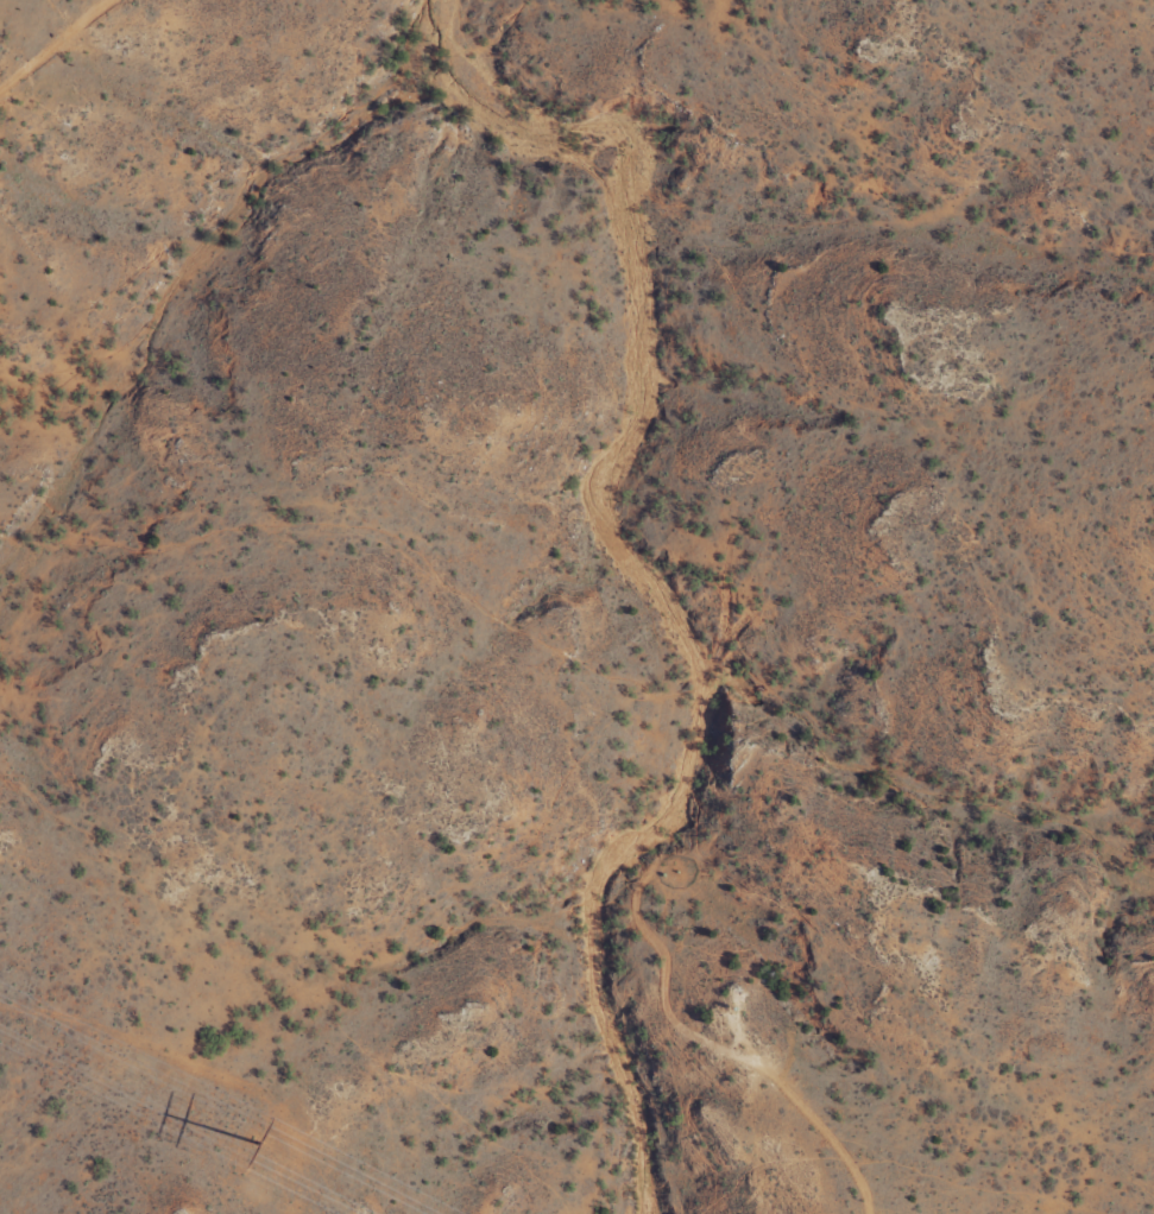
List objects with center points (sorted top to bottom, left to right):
road: (57, 45)
power tower: (258, 1140)

